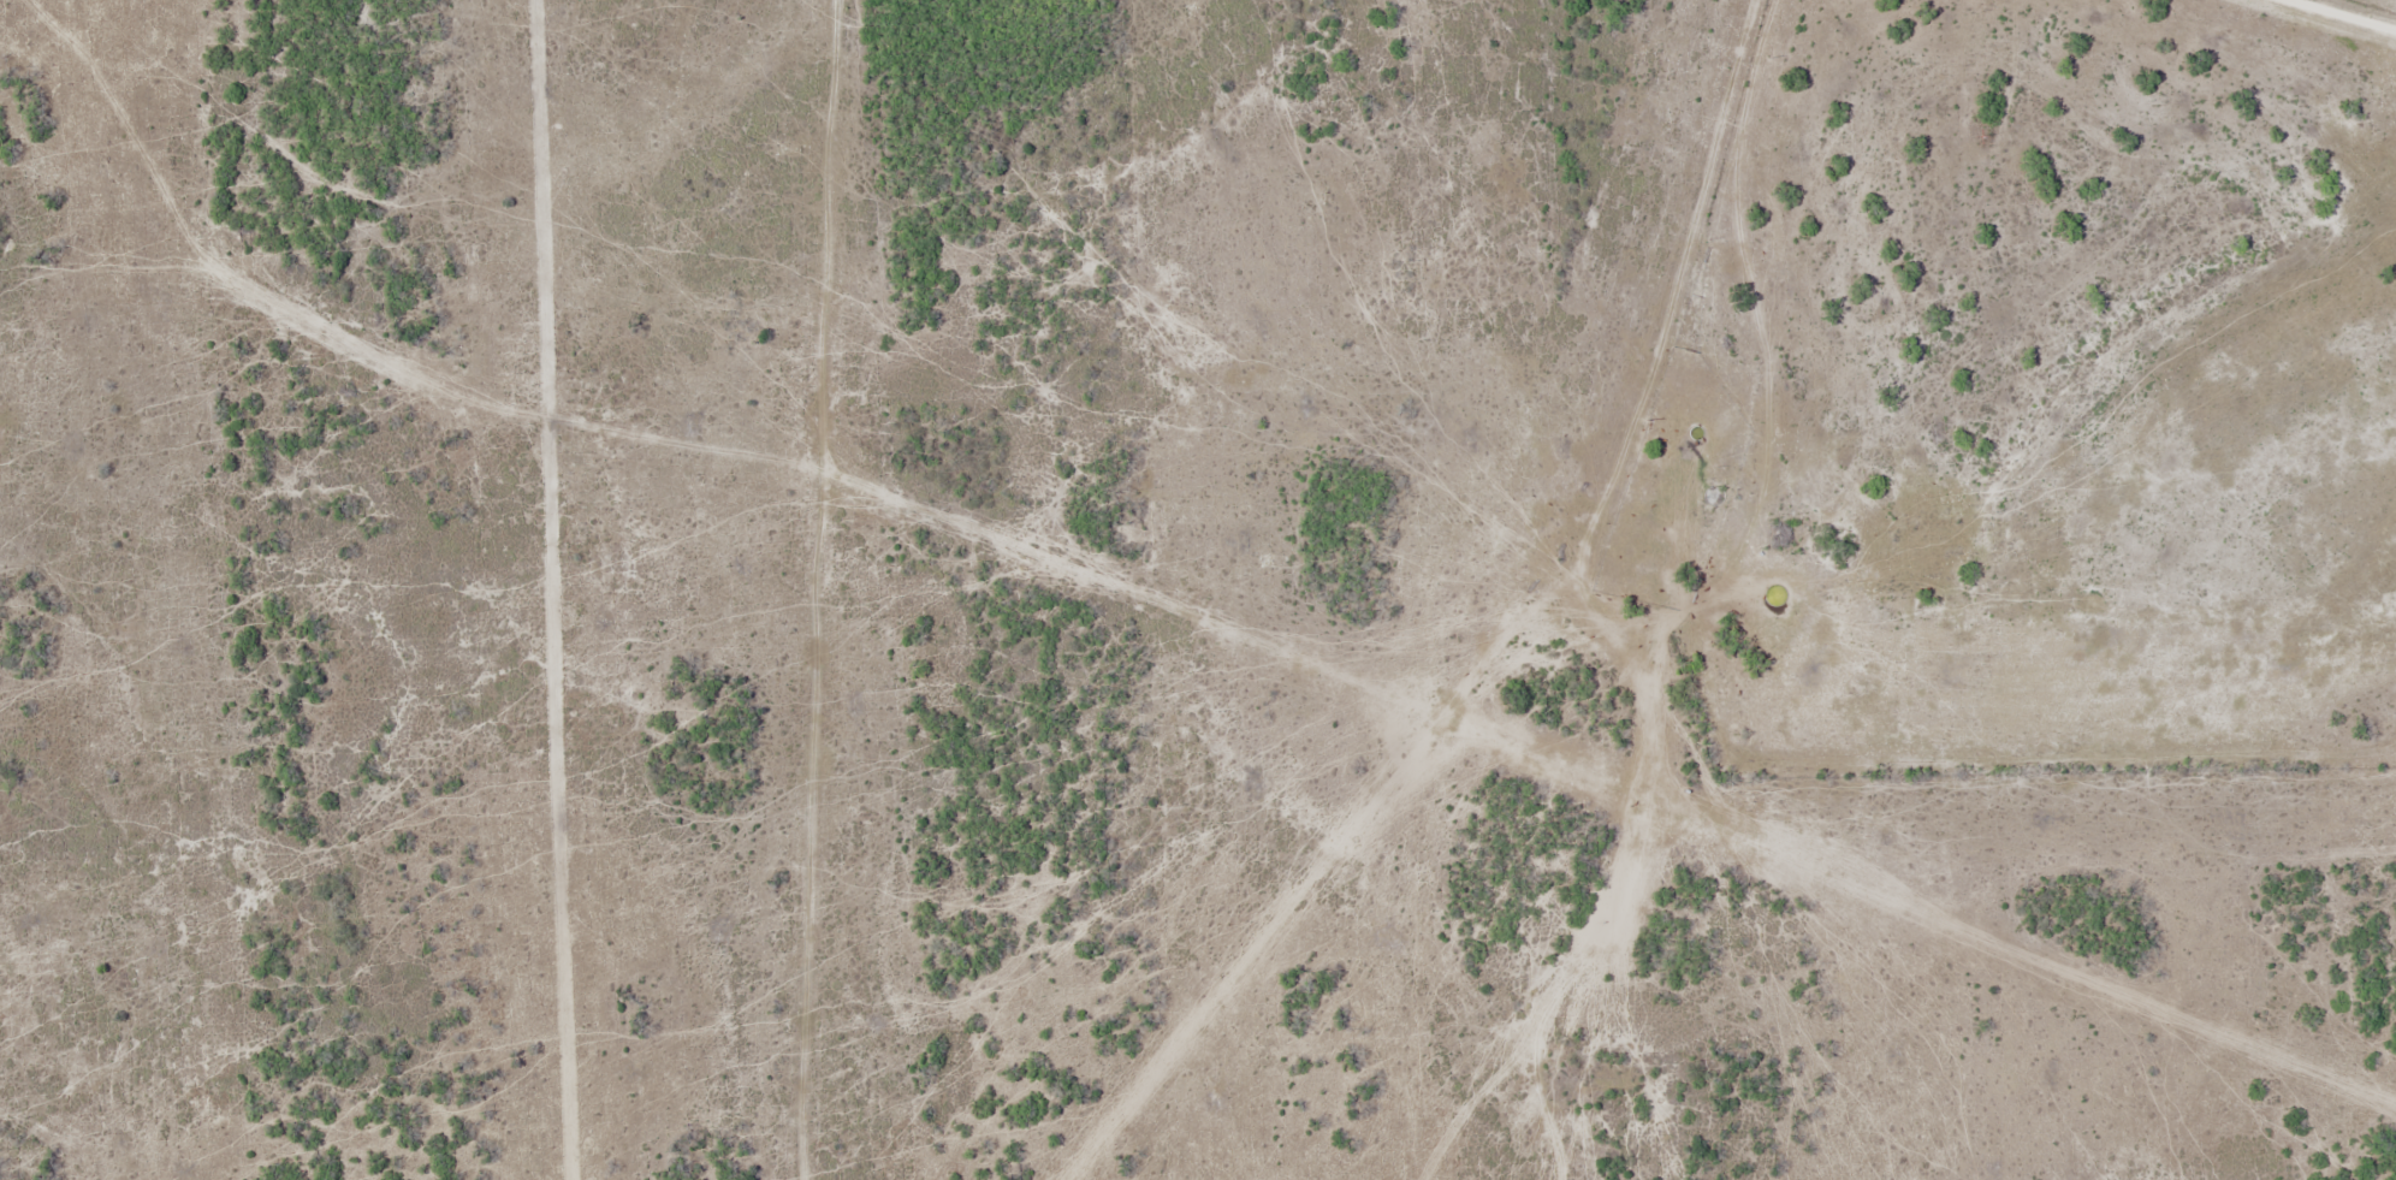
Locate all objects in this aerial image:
road: (2275, 34)

